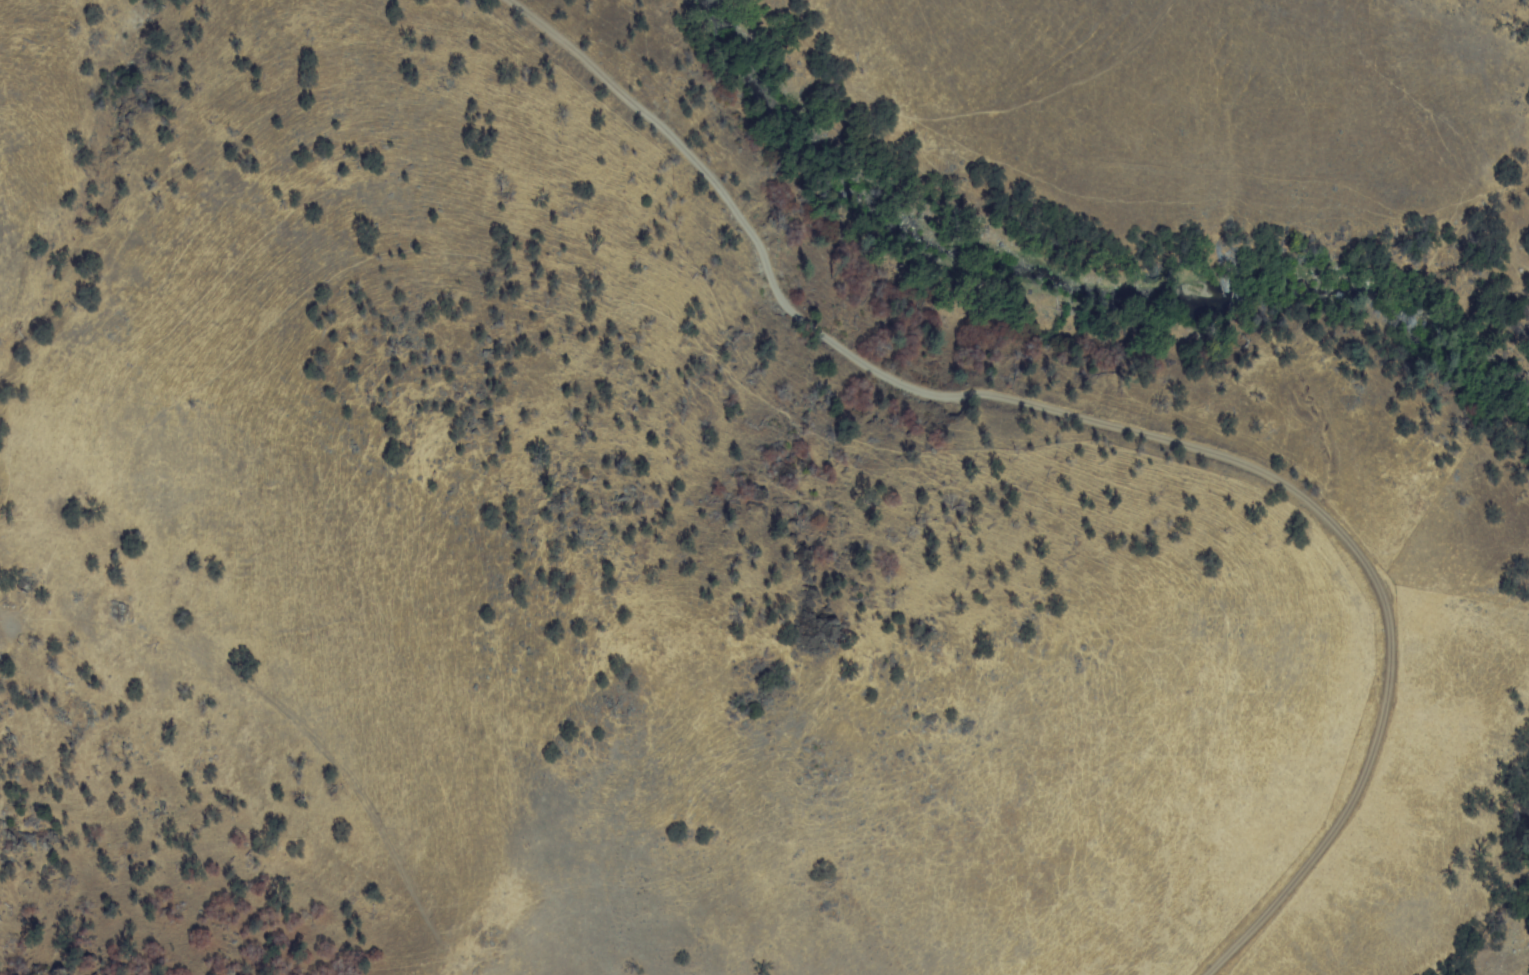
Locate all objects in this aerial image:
road: (1092, 427)

